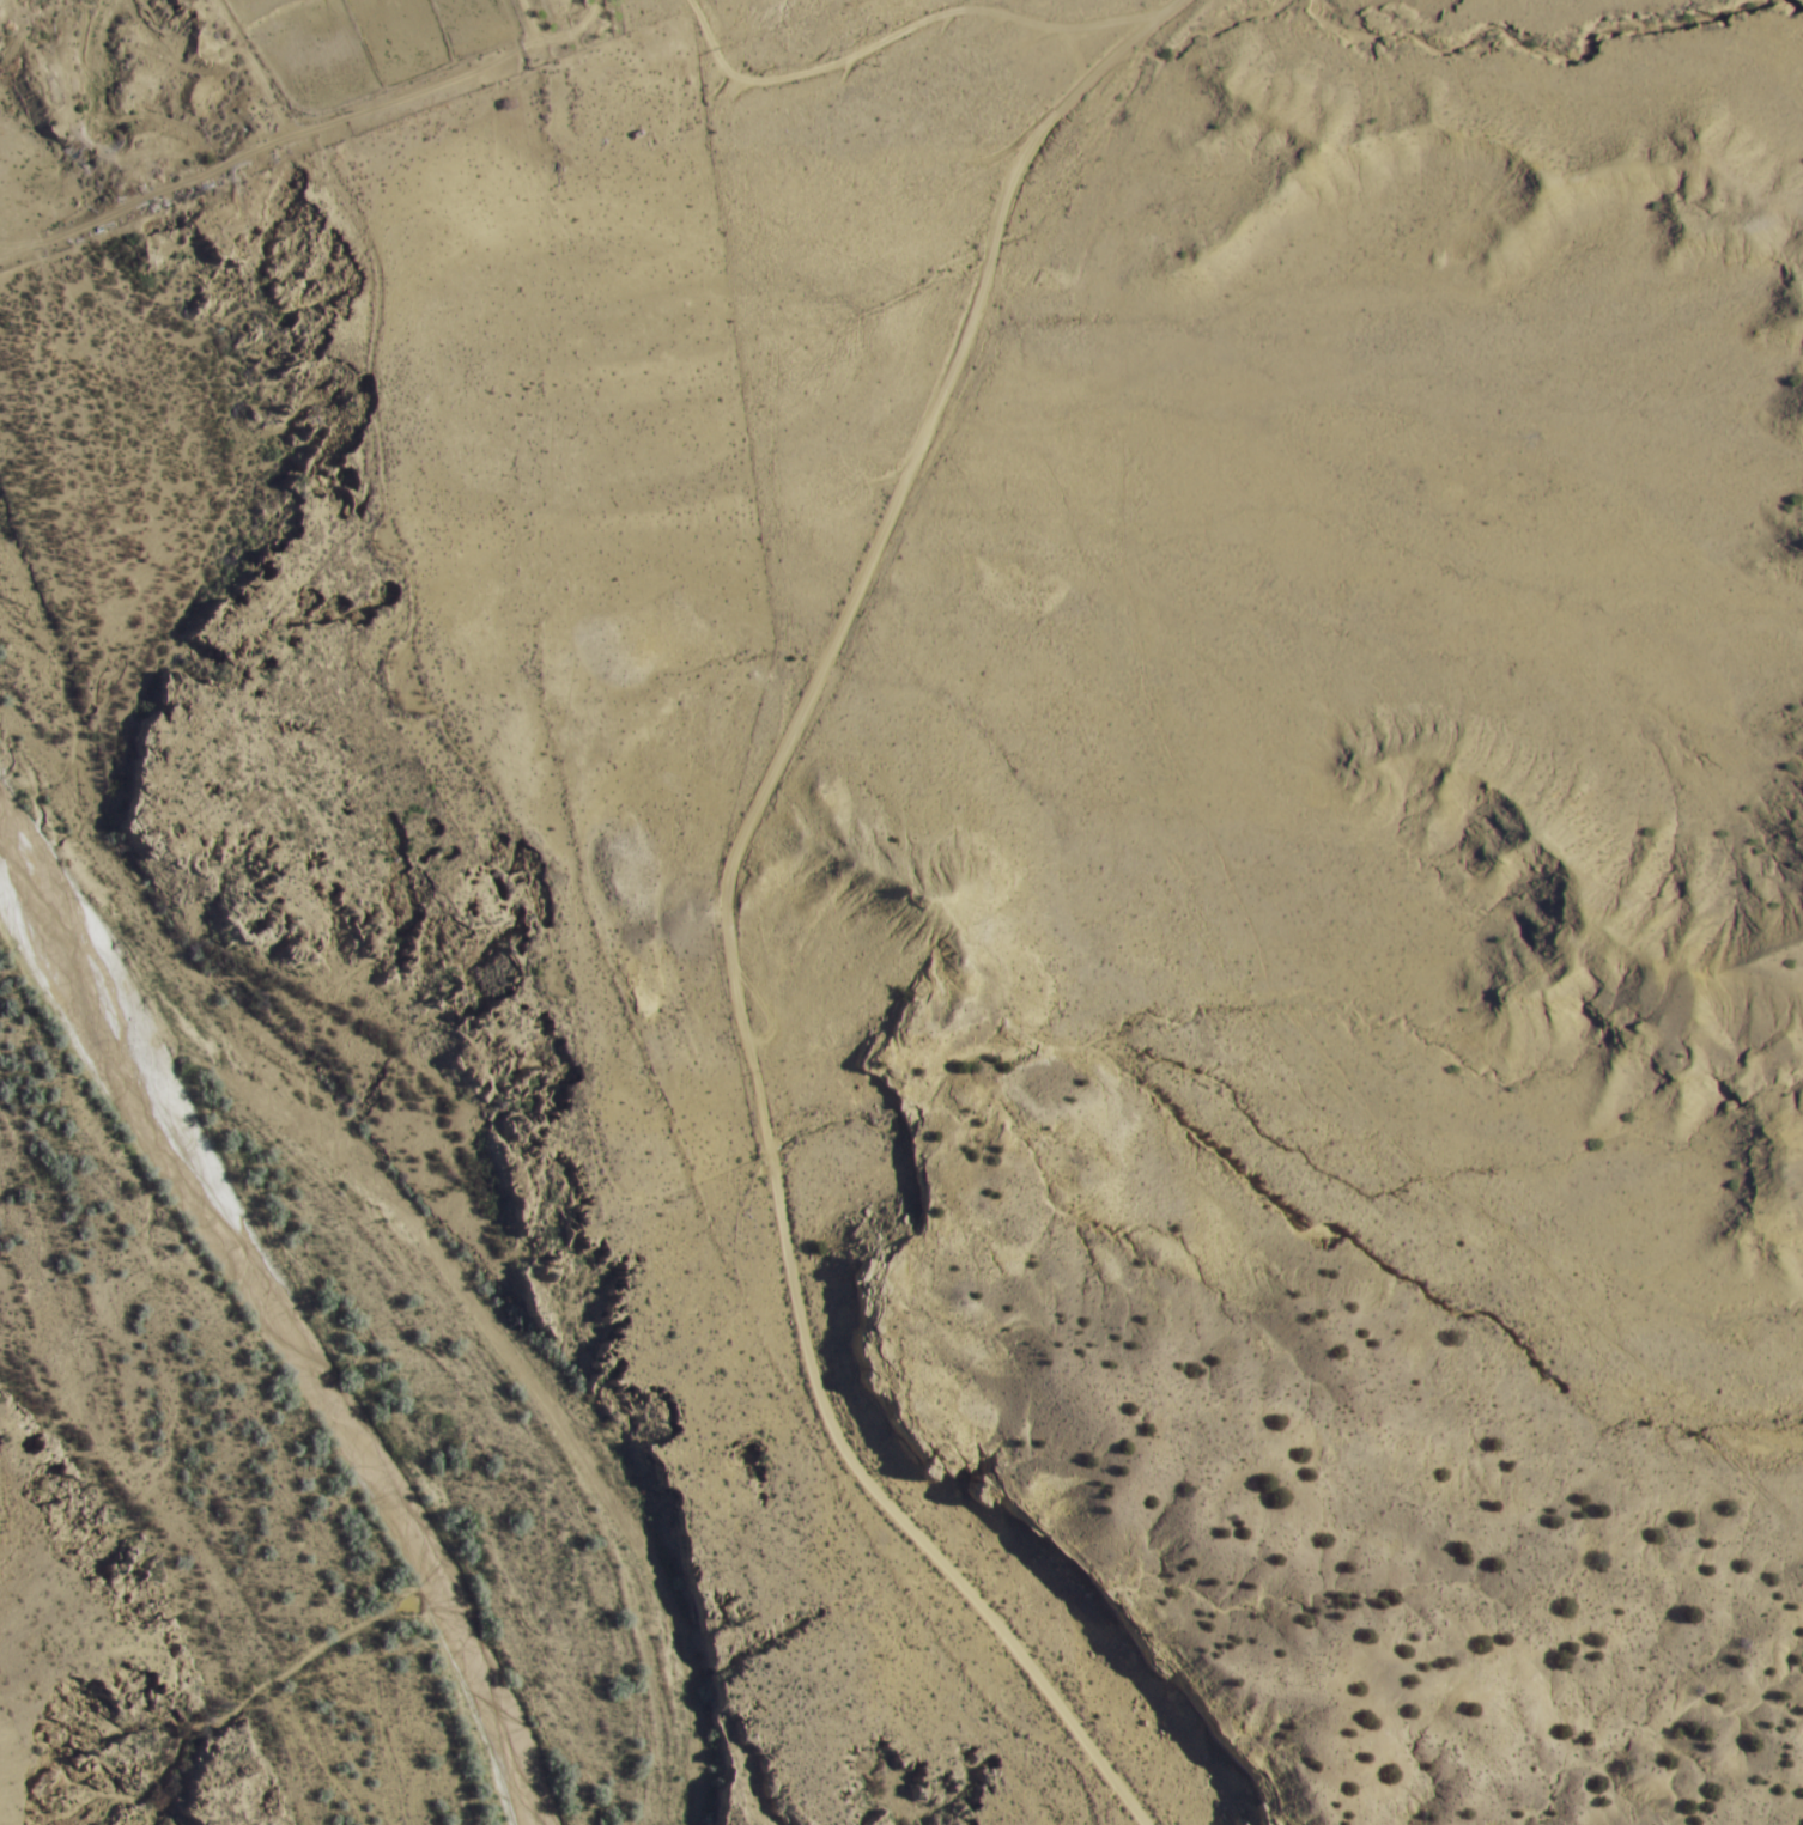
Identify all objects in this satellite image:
building: (28, 0)
road: (881, 507)
river: (290, 1321)
road: (873, 1489)

